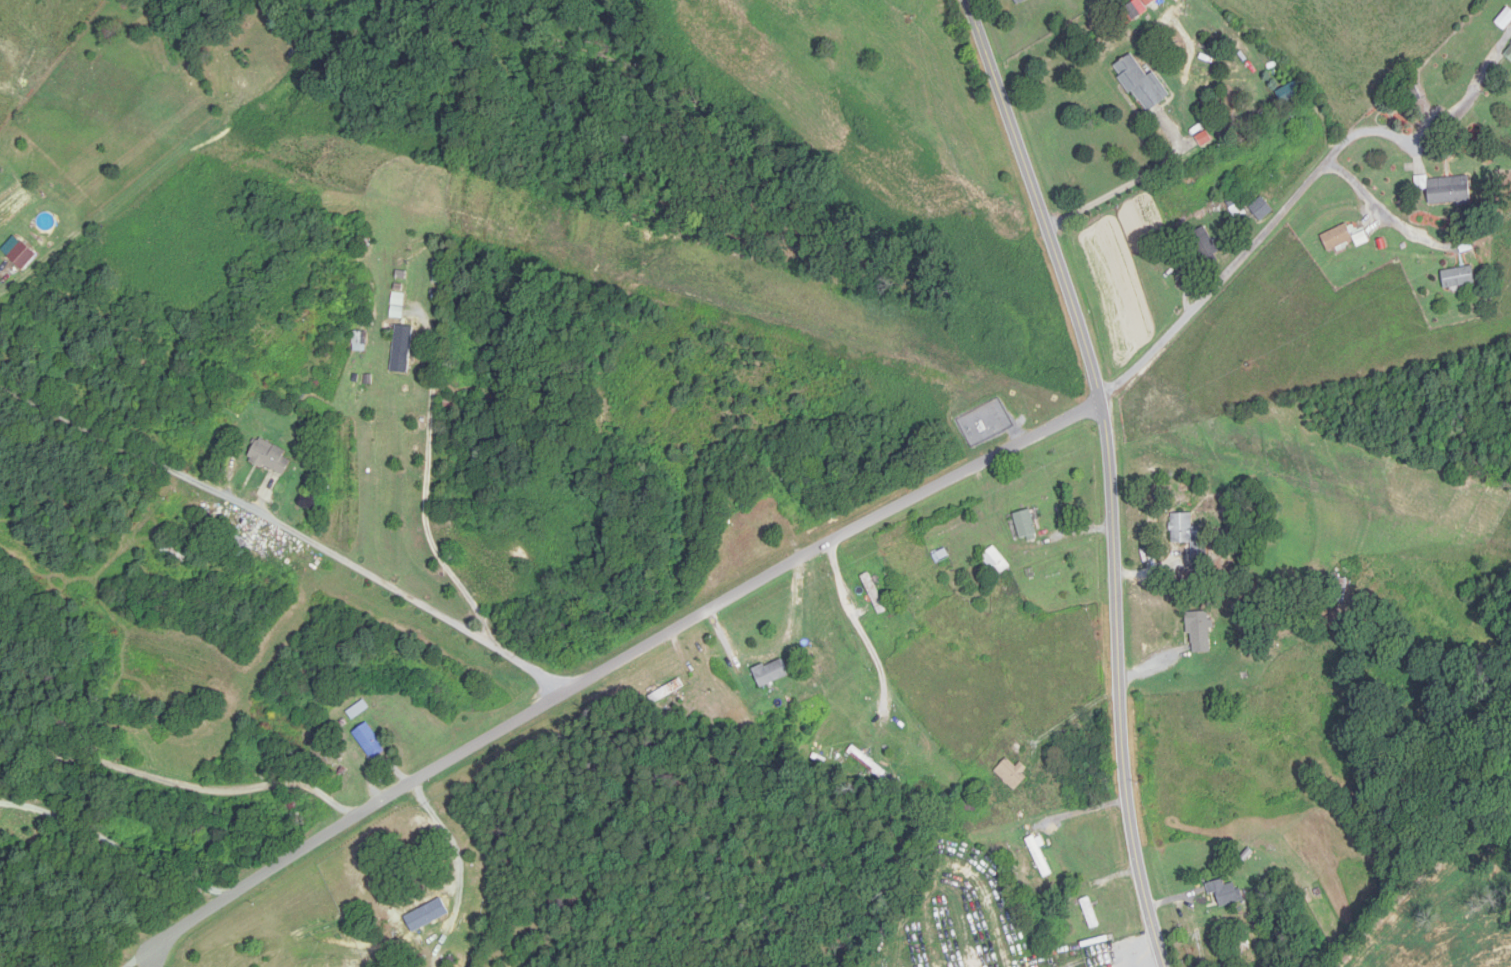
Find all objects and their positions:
building: (1150, 2)
building: (1505, 20)
building: (1509, 54)
building: (1142, 84)
road: (1134, 182)
building: (1446, 190)
road: (1296, 197)
building: (1261, 209)
building: (1337, 238)
building: (1205, 248)
building: (23, 256)
building: (1458, 278)
building: (402, 350)
building: (272, 458)
road: (1112, 474)
building: (761, 501)
road: (429, 514)
building: (1026, 527)
building: (1189, 535)
road: (286, 541)
building: (174, 553)
building: (997, 563)
building: (1340, 585)
building: (874, 594)
building: (1200, 631)
road: (613, 669)
building: (771, 673)
building: (667, 692)
road: (1246, 702)
building: (359, 710)
road: (1076, 714)
building: (370, 741)
building: (1013, 775)
building: (235, 824)
road: (121, 847)
building: (1040, 857)
building: (1227, 893)
building: (421, 914)
building: (1091, 914)
road: (1135, 949)

